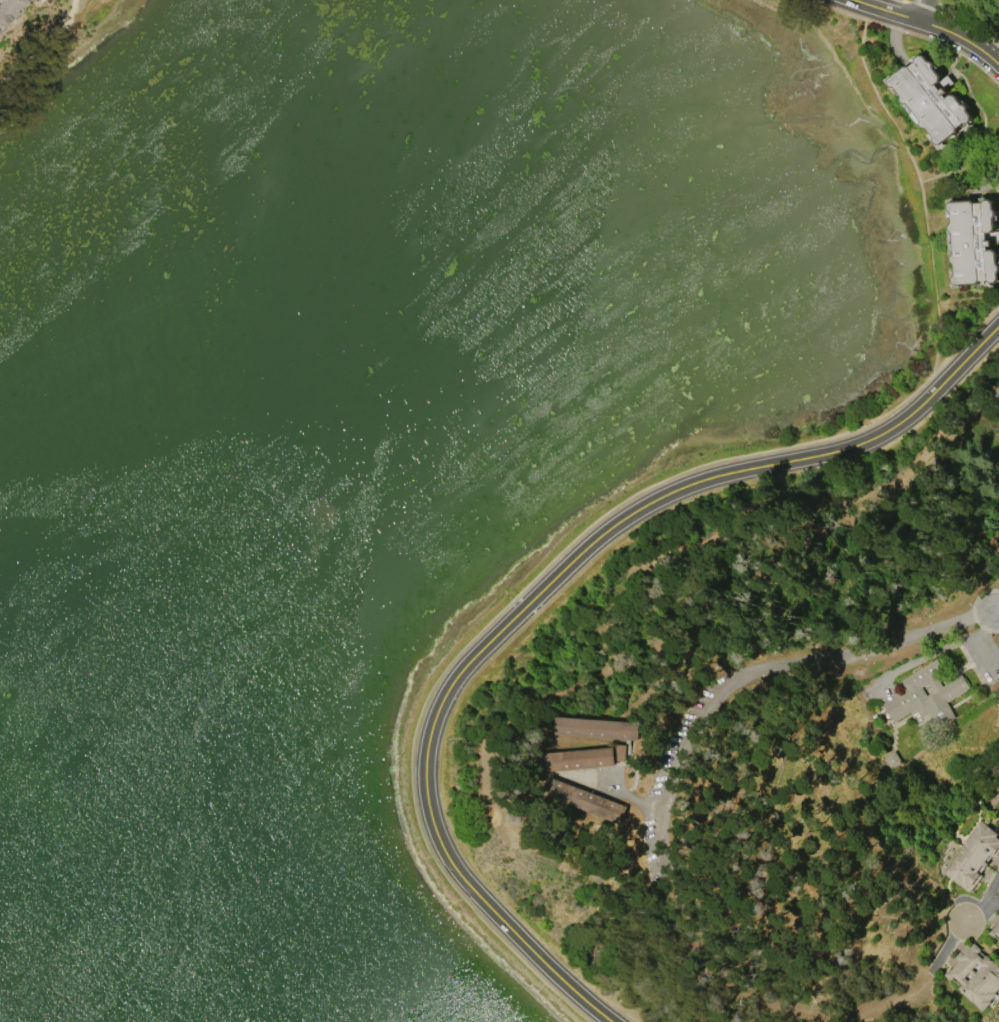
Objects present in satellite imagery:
building: (27, 0)
road: (840, 9)
building: (9, 10)
road: (925, 11)
road: (928, 26)
road: (938, 41)
building: (932, 97)
building: (975, 240)
road: (967, 341)
road: (638, 492)
road: (542, 591)
road: (997, 612)
road: (772, 684)
building: (926, 694)
building: (597, 728)
building: (574, 758)
building: (892, 762)
road: (631, 797)
building: (585, 799)
building: (973, 855)
road: (957, 929)
building: (994, 930)
building: (976, 976)

